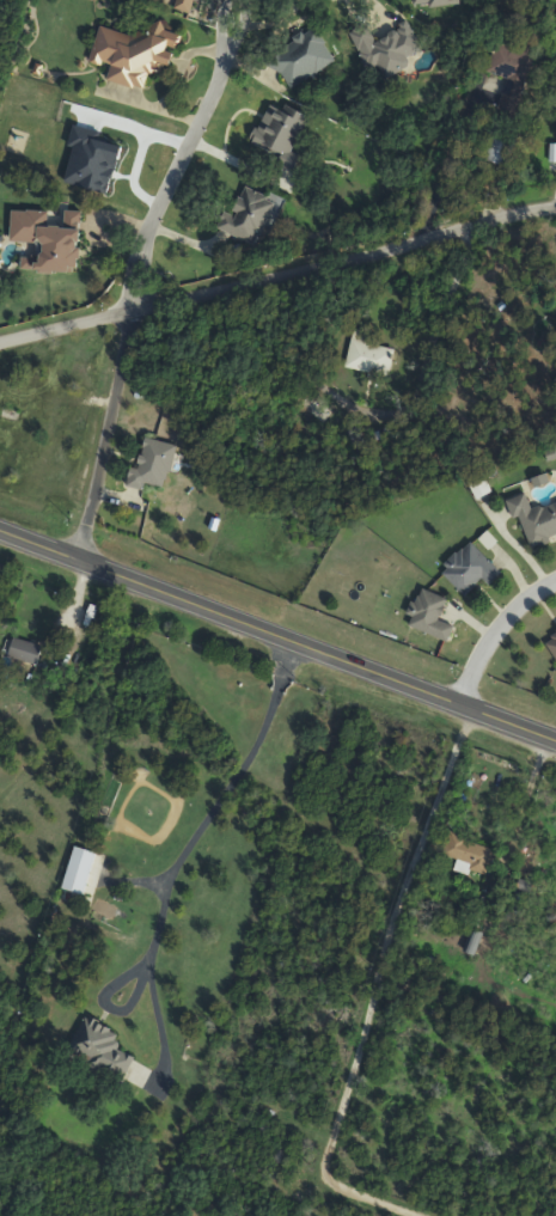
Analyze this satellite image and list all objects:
building: (434, 2)
building: (188, 6)
building: (390, 49)
building: (138, 50)
building: (305, 57)
building: (514, 72)
building: (503, 148)
road: (183, 154)
road: (445, 157)
building: (255, 216)
road: (277, 270)
building: (372, 354)
road: (105, 435)
building: (153, 465)
building: (536, 520)
building: (472, 569)
building: (432, 616)
road: (491, 628)
road: (277, 635)
building: (552, 642)
building: (469, 854)
road: (175, 858)
building: (79, 870)
building: (473, 943)
road: (368, 988)
building: (104, 1046)

